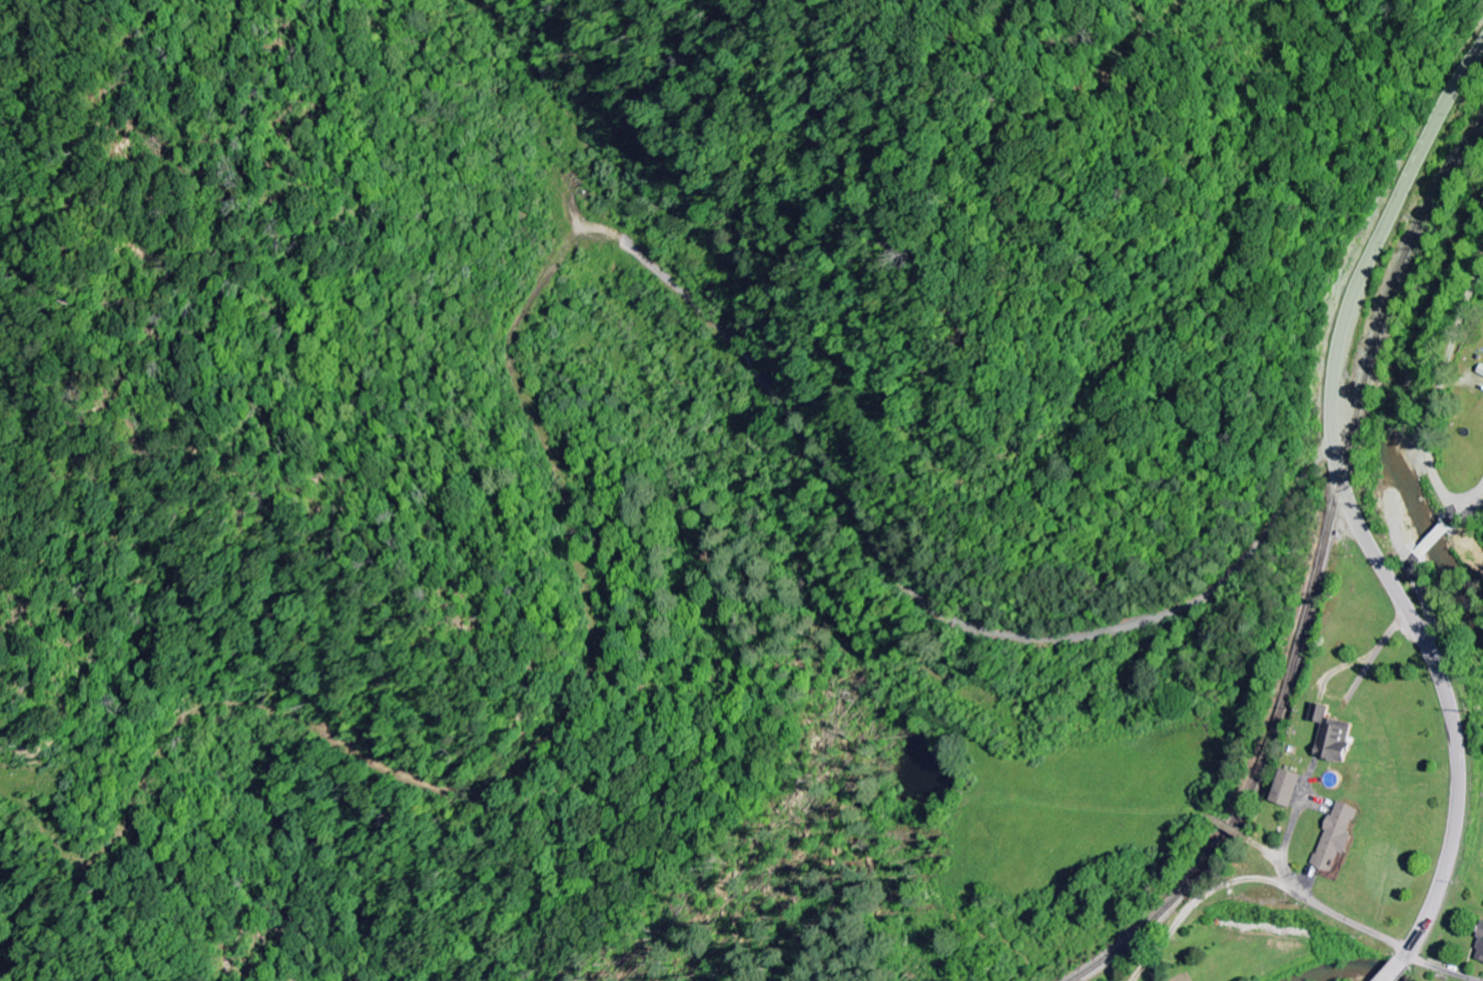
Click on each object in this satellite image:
building: (1481, 372)
road: (1433, 465)
road: (1351, 514)
railway: (1314, 582)
building: (1333, 737)
building: (1287, 789)
building: (1337, 837)
building: (1479, 951)

